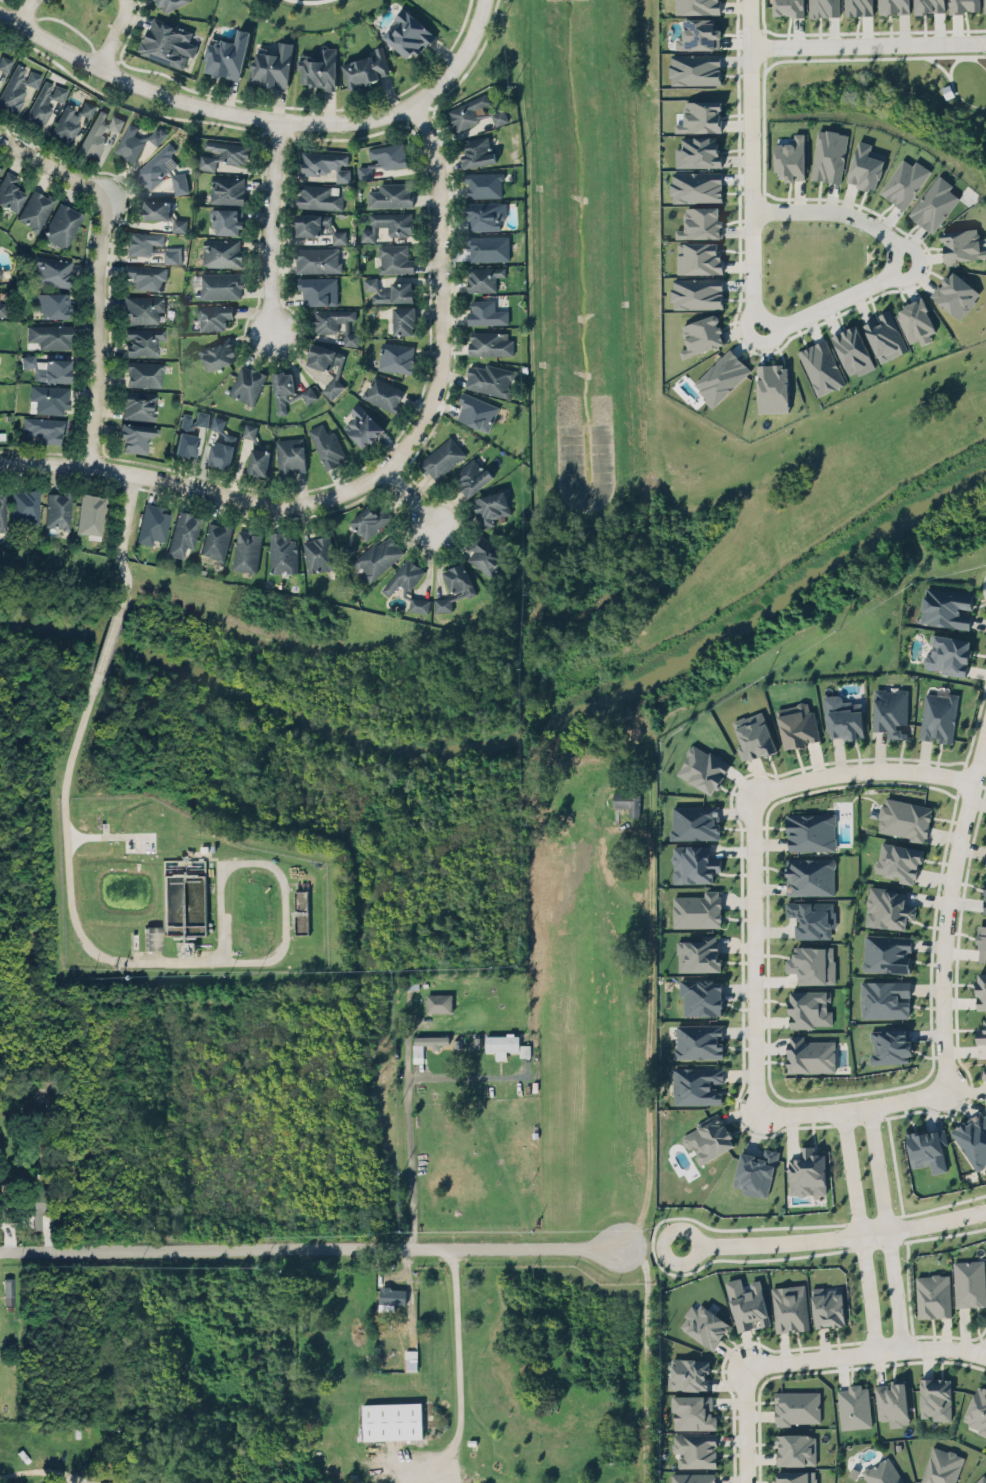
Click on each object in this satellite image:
road: (10, 0)
building: (984, 3)
building: (171, 4)
building: (822, 5)
building: (857, 5)
building: (893, 5)
building: (964, 5)
building: (696, 6)
building: (929, 6)
building: (787, 7)
road: (29, 10)
road: (70, 25)
building: (407, 30)
road: (118, 32)
building: (699, 34)
building: (167, 41)
road: (867, 42)
building: (227, 55)
building: (5, 63)
building: (273, 63)
building: (693, 66)
building: (319, 67)
building: (366, 68)
building: (17, 87)
building: (43, 103)
road: (286, 105)
building: (474, 111)
building: (699, 112)
road: (261, 118)
building: (70, 121)
road: (277, 125)
building: (99, 132)
building: (135, 138)
building: (698, 151)
building: (827, 151)
building: (477, 152)
building: (223, 153)
road: (55, 155)
building: (383, 156)
building: (791, 158)
building: (325, 162)
road: (749, 165)
building: (865, 166)
building: (162, 168)
building: (0, 169)
building: (904, 182)
building: (484, 184)
building: (695, 185)
building: (227, 188)
building: (9, 192)
building: (390, 194)
building: (320, 196)
building: (932, 200)
building: (36, 208)
road: (836, 209)
building: (164, 212)
building: (484, 215)
building: (226, 218)
building: (701, 222)
building: (388, 223)
building: (318, 224)
building: (61, 225)
road: (271, 225)
building: (151, 245)
building: (962, 245)
building: (488, 246)
building: (222, 252)
building: (696, 254)
building: (395, 257)
building: (318, 260)
building: (1, 272)
building: (51, 272)
building: (145, 276)
building: (483, 277)
building: (221, 285)
building: (318, 289)
building: (389, 290)
building: (697, 292)
building: (955, 294)
road: (835, 299)
building: (53, 305)
building: (141, 307)
building: (2, 309)
building: (487, 312)
building: (213, 316)
building: (403, 319)
building: (915, 319)
road: (446, 320)
building: (334, 322)
road: (100, 323)
building: (702, 334)
building: (50, 335)
building: (884, 336)
building: (143, 340)
building: (490, 343)
building: (853, 347)
building: (216, 350)
building: (323, 356)
building: (396, 356)
building: (819, 363)
building: (47, 369)
building: (721, 372)
building: (143, 373)
building: (490, 379)
building: (247, 383)
building: (770, 384)
building: (332, 387)
building: (287, 390)
building: (383, 393)
building: (48, 398)
building: (139, 404)
building: (476, 411)
building: (363, 425)
building: (45, 427)
building: (249, 430)
building: (189, 432)
building: (135, 436)
building: (221, 443)
building: (326, 444)
building: (291, 453)
building: (441, 457)
building: (258, 461)
road: (167, 476)
building: (473, 477)
road: (413, 495)
building: (24, 507)
building: (490, 507)
building: (58, 509)
building: (3, 511)
building: (91, 513)
building: (370, 520)
building: (152, 524)
road: (122, 531)
building: (183, 534)
building: (215, 540)
building: (245, 548)
building: (283, 551)
building: (319, 553)
building: (491, 556)
building: (377, 557)
building: (403, 576)
building: (459, 579)
building: (419, 604)
building: (443, 604)
building: (946, 606)
road: (109, 639)
building: (949, 652)
building: (890, 709)
building: (939, 715)
building: (844, 716)
building: (797, 721)
river: (515, 730)
building: (753, 736)
building: (702, 764)
road: (861, 770)
building: (627, 801)
building: (902, 816)
building: (695, 822)
building: (810, 831)
building: (898, 861)
building: (693, 863)
building: (811, 875)
building: (300, 899)
building: (984, 900)
building: (886, 904)
building: (697, 910)
road: (948, 910)
building: (809, 915)
building: (981, 943)
building: (885, 950)
building: (699, 954)
road: (754, 956)
road: (159, 962)
building: (812, 964)
building: (981, 990)
building: (701, 996)
building: (884, 999)
building: (438, 1002)
building: (806, 1004)
building: (981, 1033)
building: (431, 1038)
building: (698, 1040)
building: (500, 1042)
road: (584, 1046)
building: (890, 1046)
building: (524, 1050)
building: (810, 1054)
building: (984, 1072)
building: (697, 1084)
building: (985, 1099)
road: (408, 1102)
road: (852, 1110)
building: (973, 1137)
building: (708, 1138)
building: (927, 1147)
building: (806, 1169)
building: (755, 1171)
building: (36, 1203)
road: (886, 1228)
road: (860, 1232)
road: (834, 1237)
road: (315, 1245)
building: (969, 1282)
building: (8, 1291)
building: (392, 1295)
building: (933, 1295)
building: (747, 1303)
building: (827, 1306)
building: (790, 1307)
building: (704, 1325)
road: (985, 1352)
road: (865, 1353)
road: (456, 1365)
building: (687, 1370)
building: (936, 1397)
building: (892, 1403)
building: (796, 1406)
building: (854, 1406)
building: (691, 1410)
building: (977, 1410)
building: (392, 1420)
road: (745, 1424)
building: (696, 1448)
building: (796, 1449)
building: (941, 1466)
road: (454, 1469)
building: (882, 1472)
road: (44, 1473)
building: (795, 1476)
building: (692, 1477)
building: (981, 1479)
building: (142, 1481)

